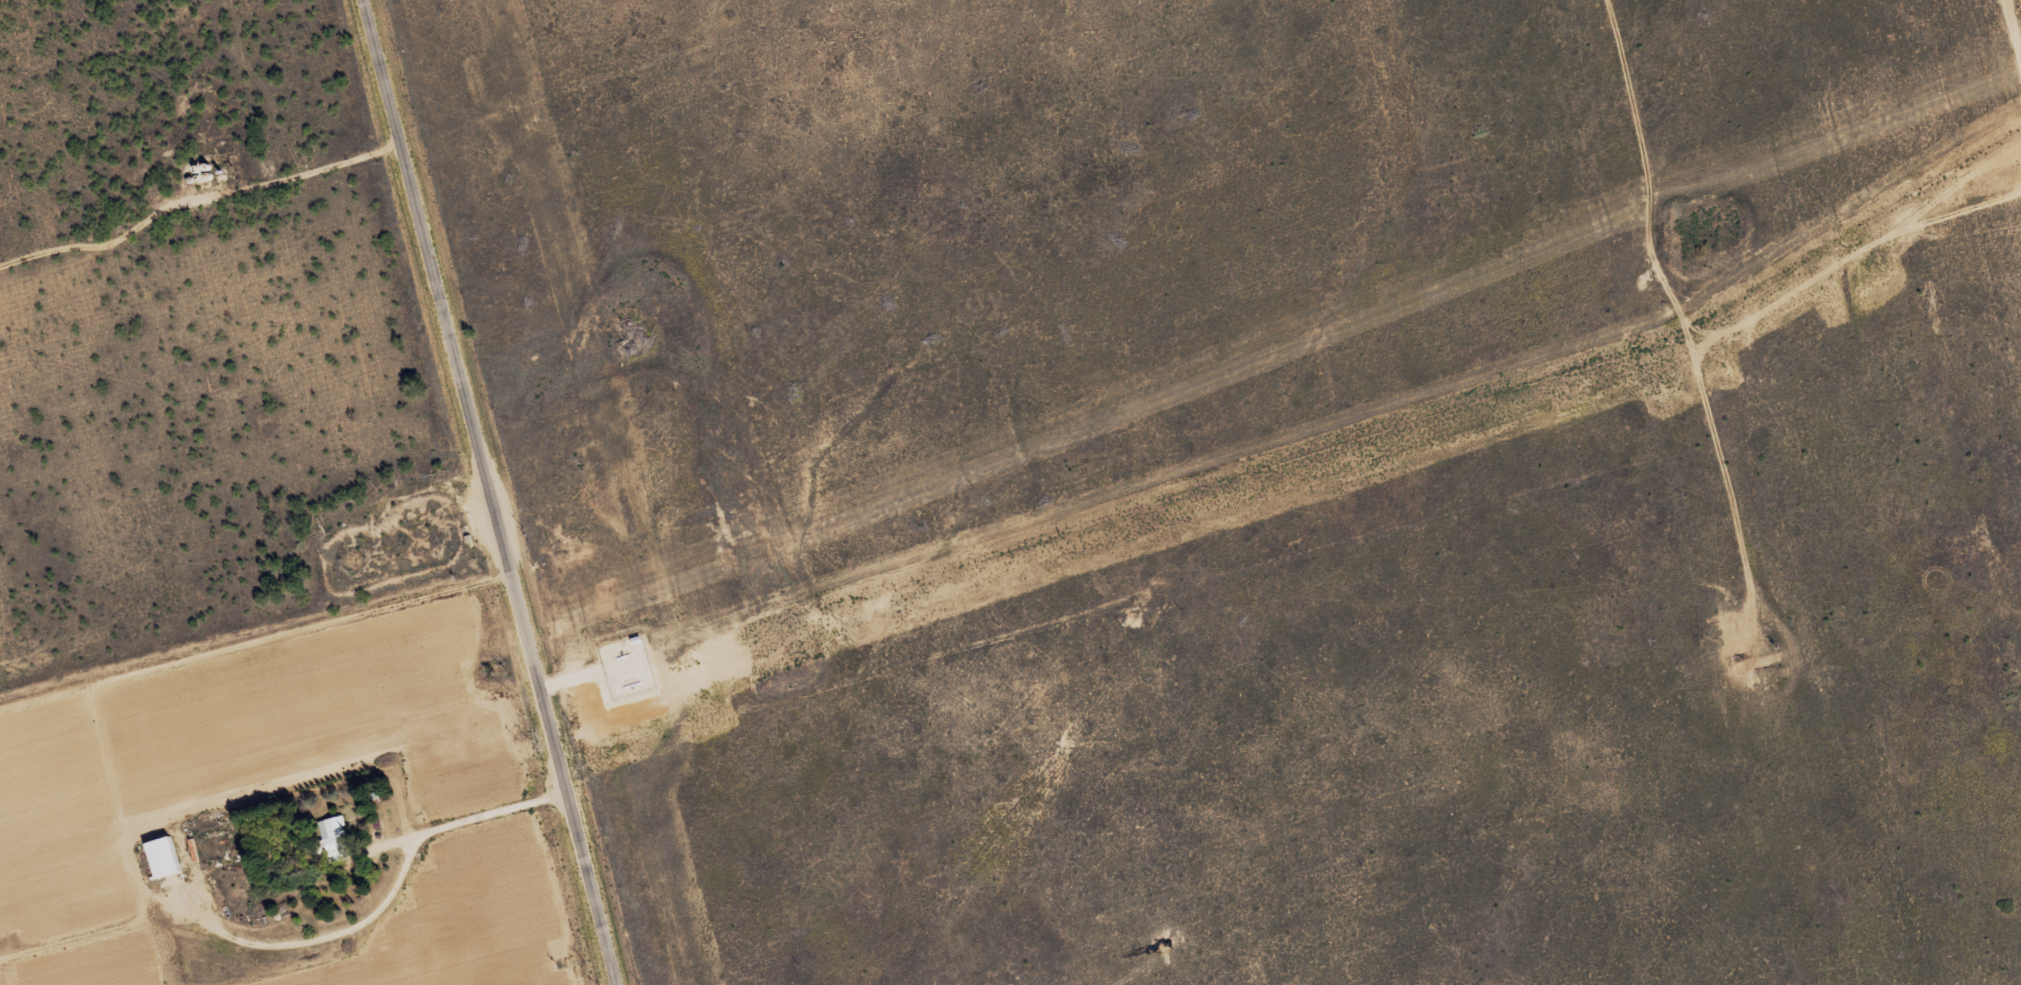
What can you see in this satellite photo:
road: (2013, 36)
road: (196, 199)
road: (491, 492)
building: (353, 560)
road: (1390, 603)
road: (477, 814)
building: (336, 838)
building: (164, 857)

